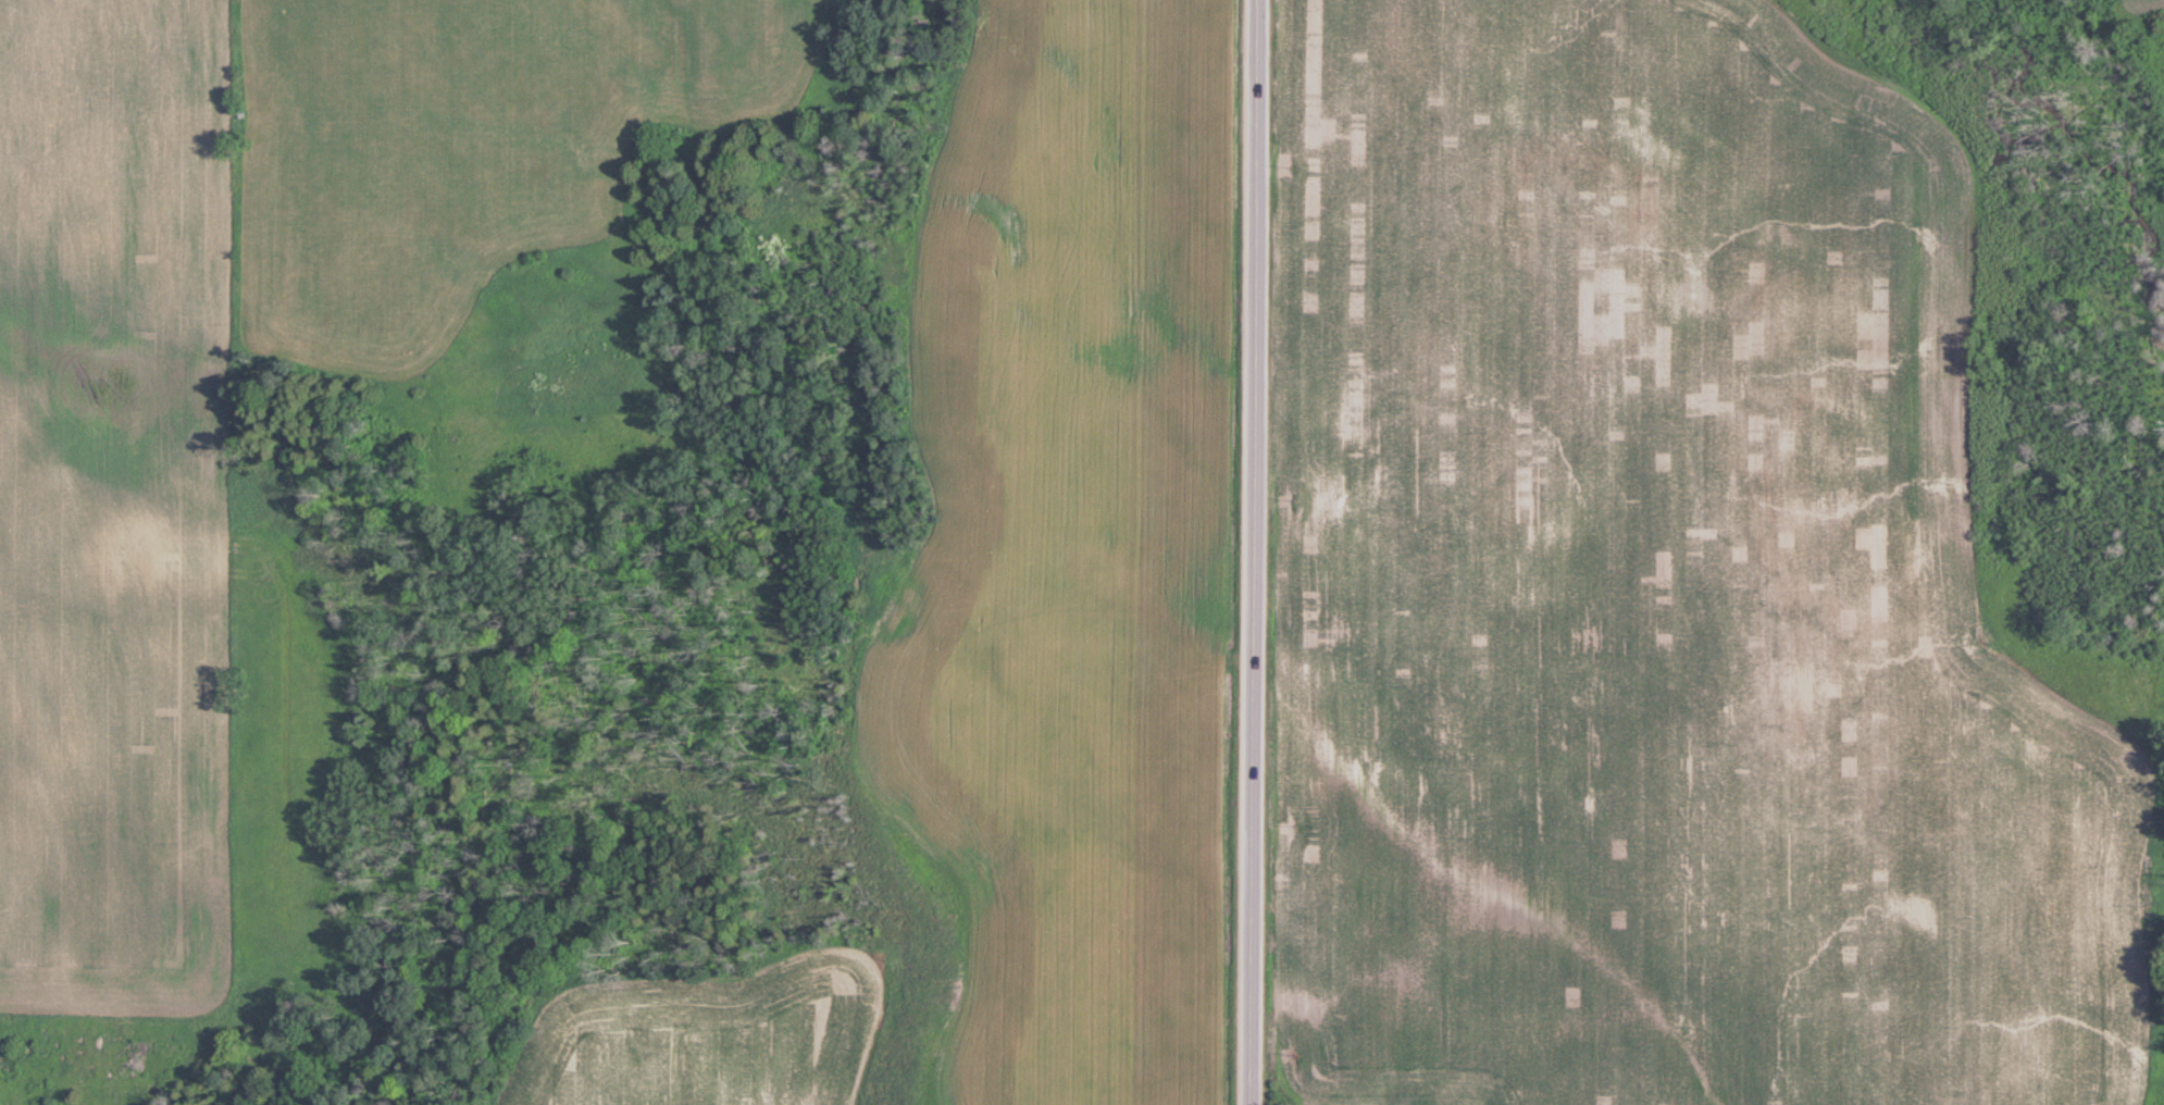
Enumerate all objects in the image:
road: (1255, 552)

